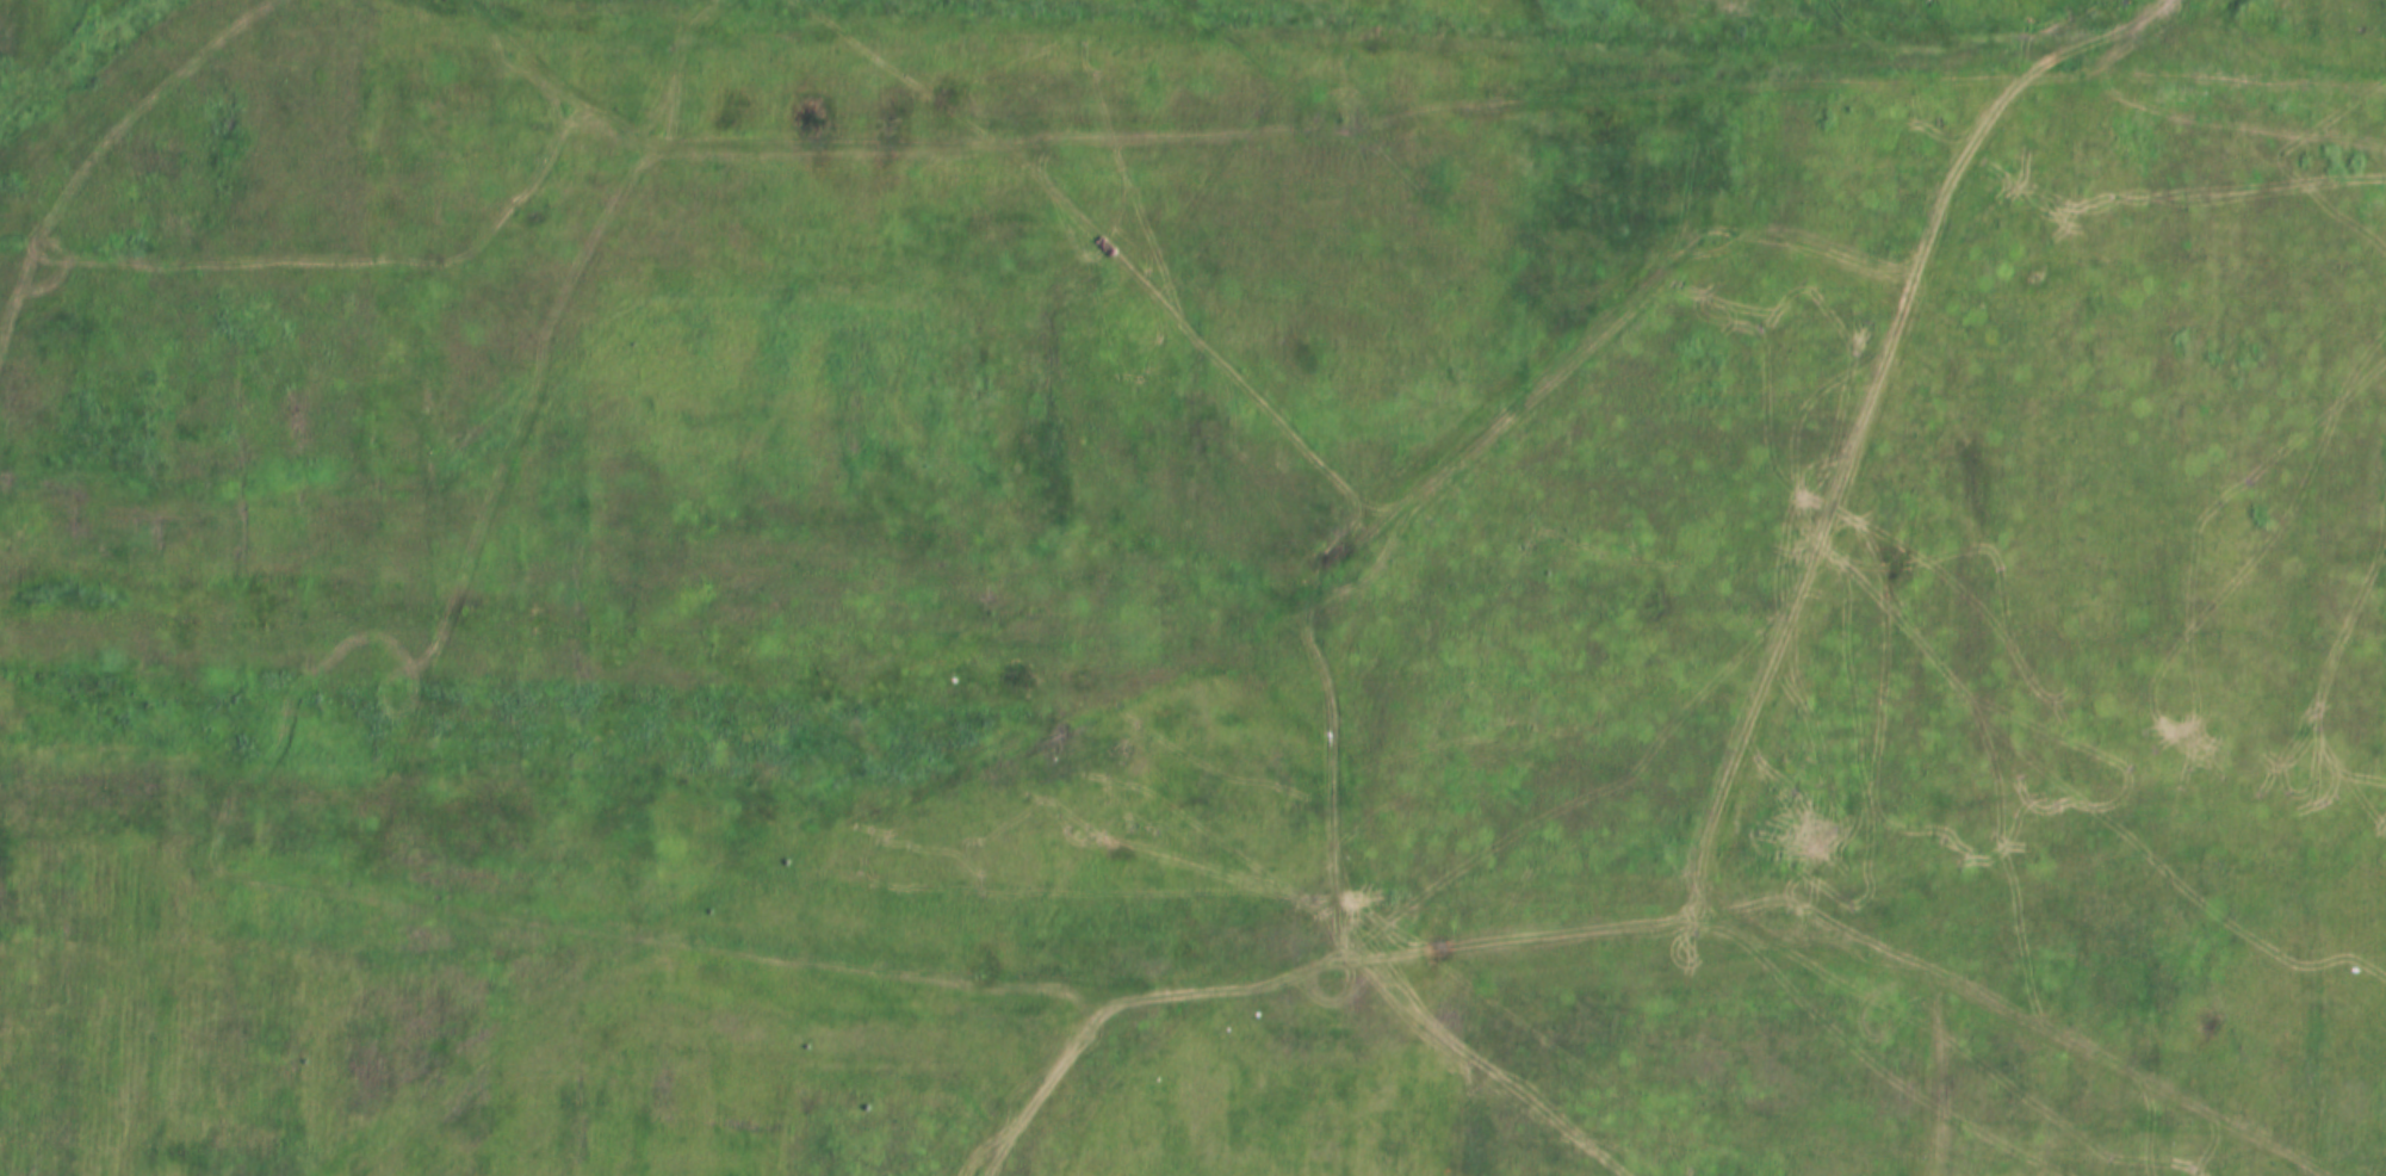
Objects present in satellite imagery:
road: (2095, 586)

